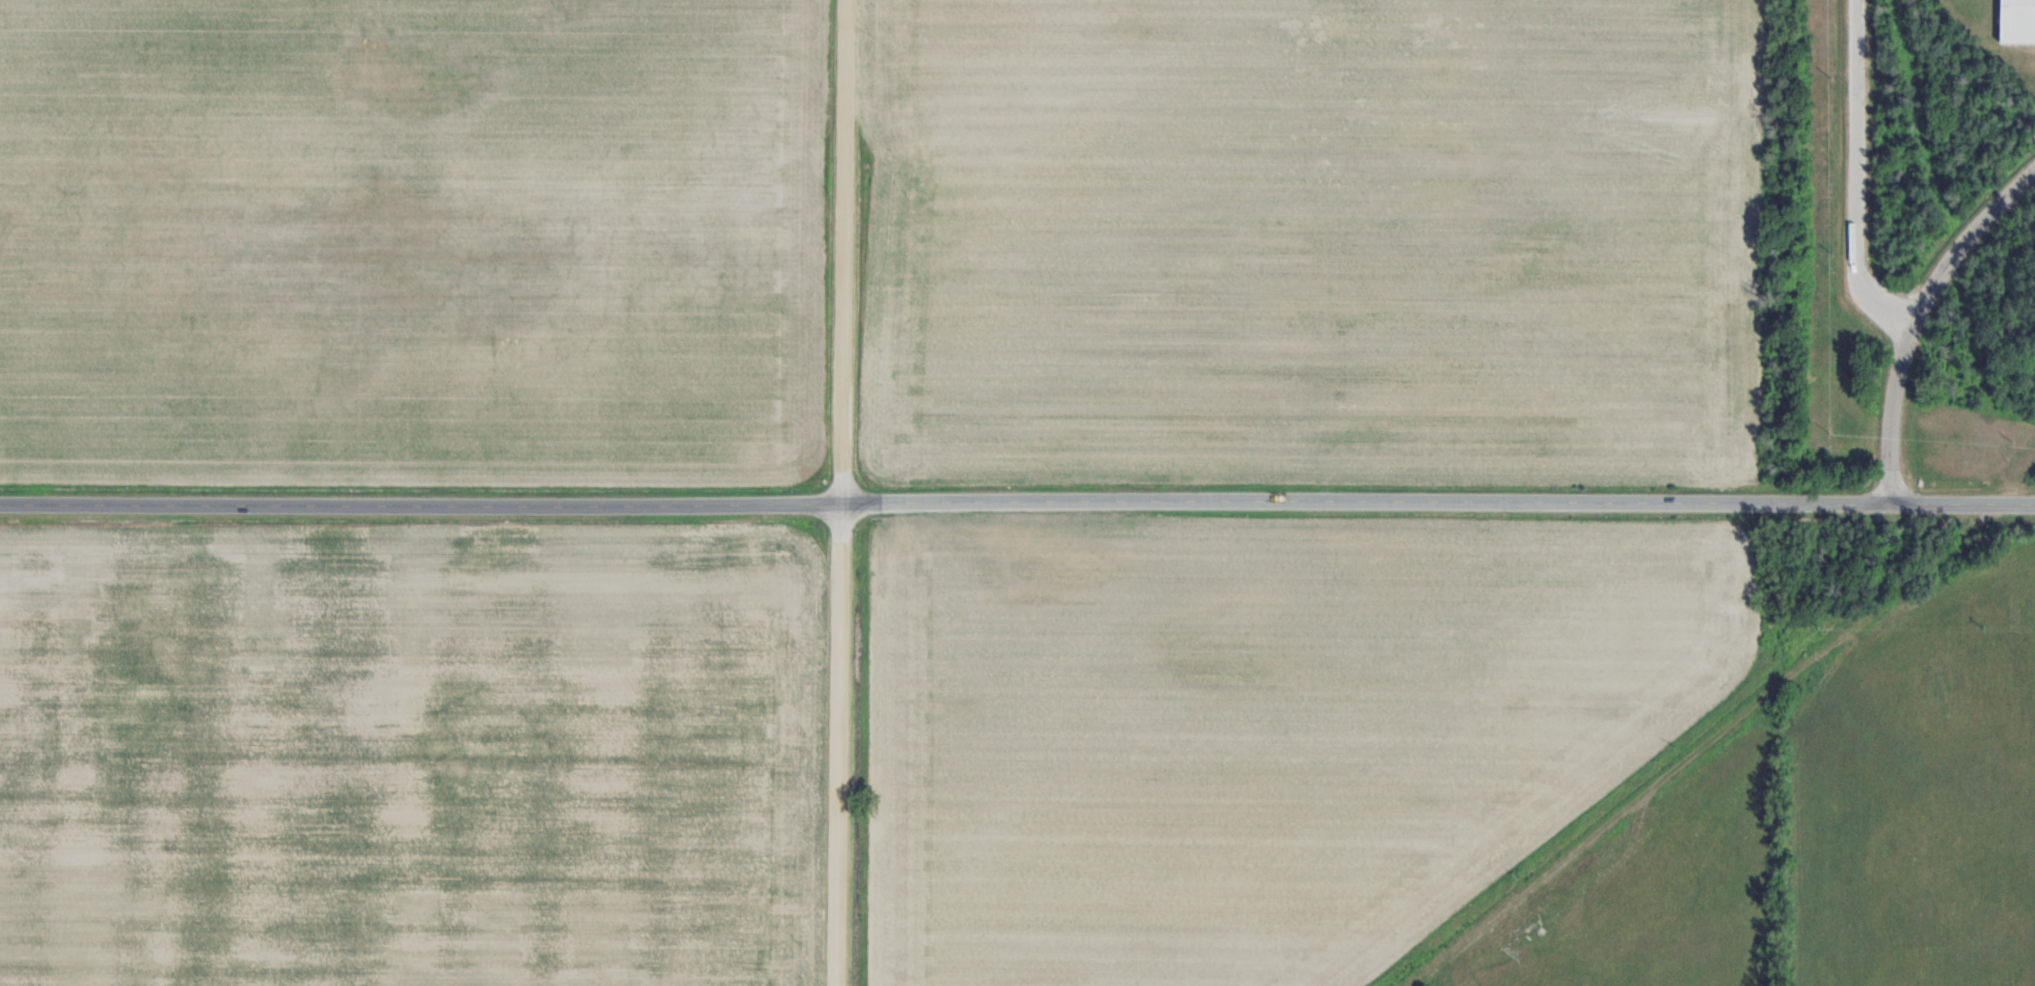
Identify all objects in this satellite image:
building: (2015, 22)
road: (1847, 183)
road: (1919, 319)
road: (846, 493)
road: (422, 505)
road: (1440, 505)

